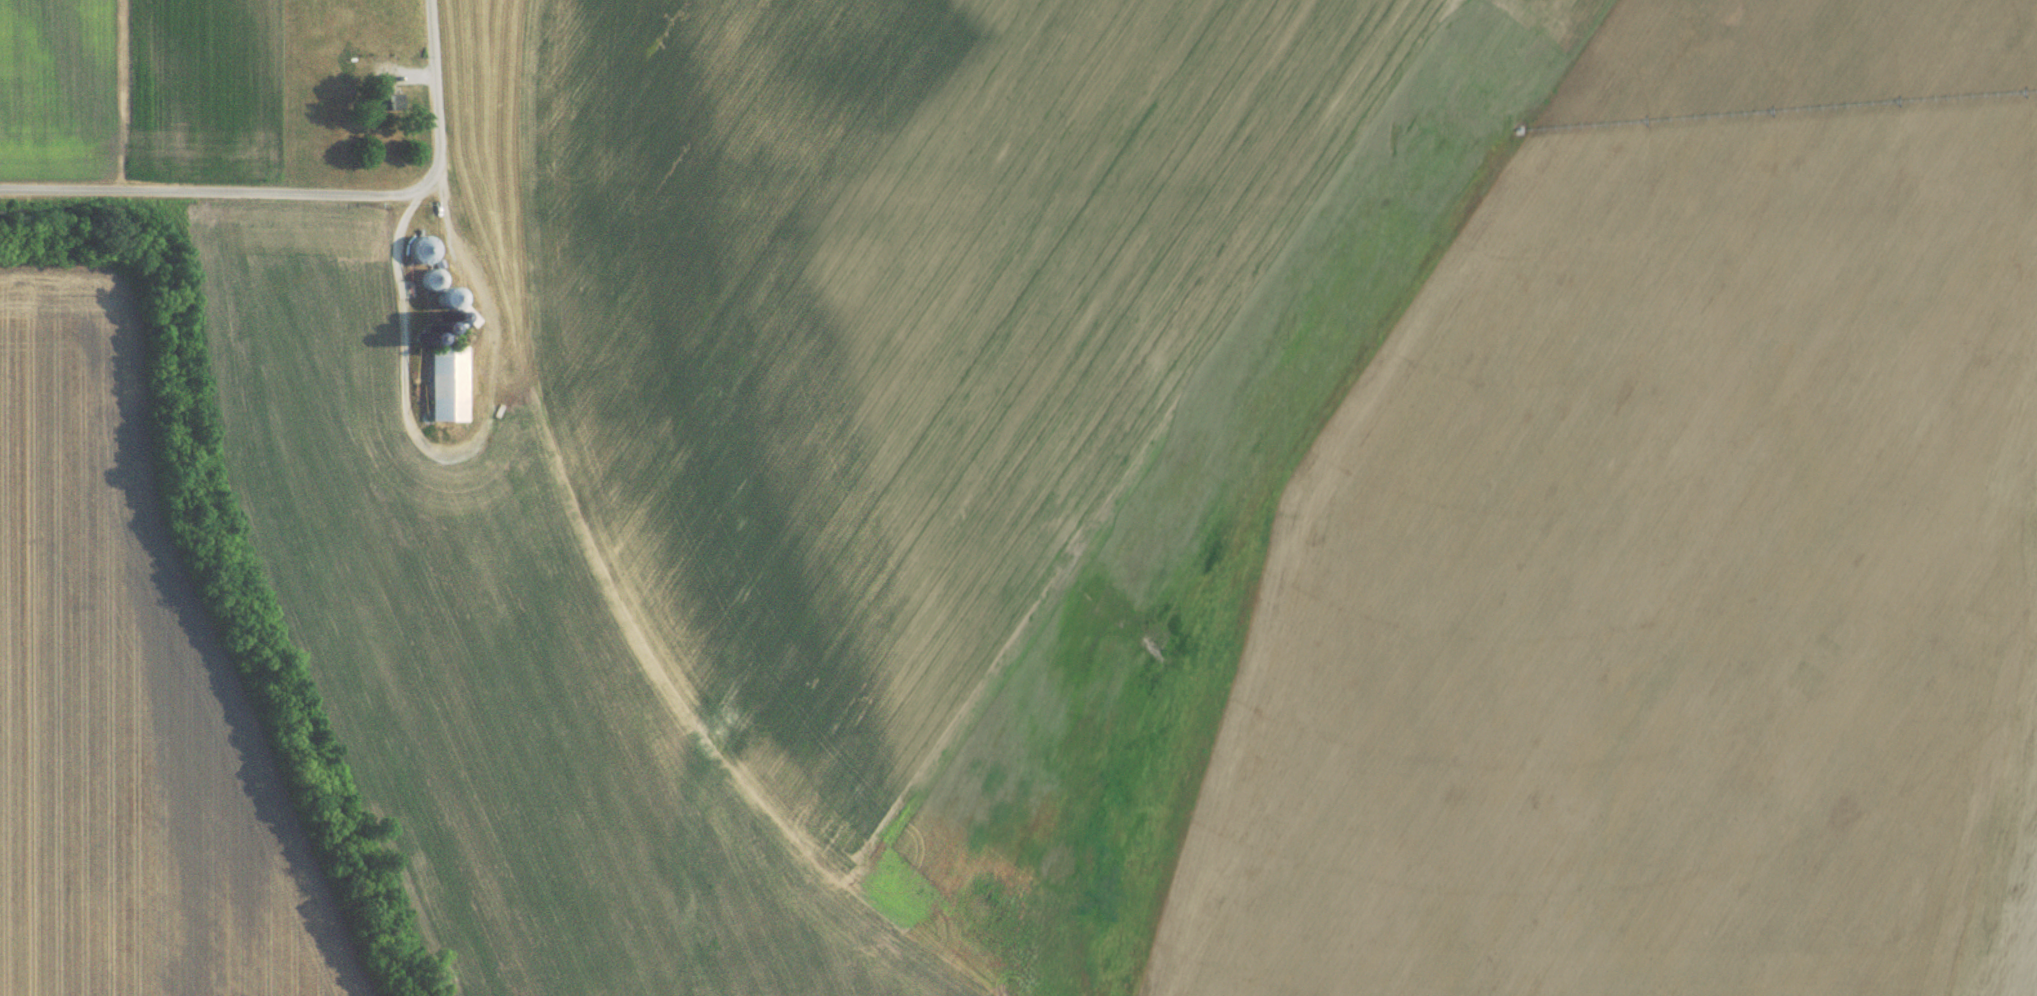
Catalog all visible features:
road: (312, 201)
building: (424, 256)
building: (446, 391)
road: (463, 453)

